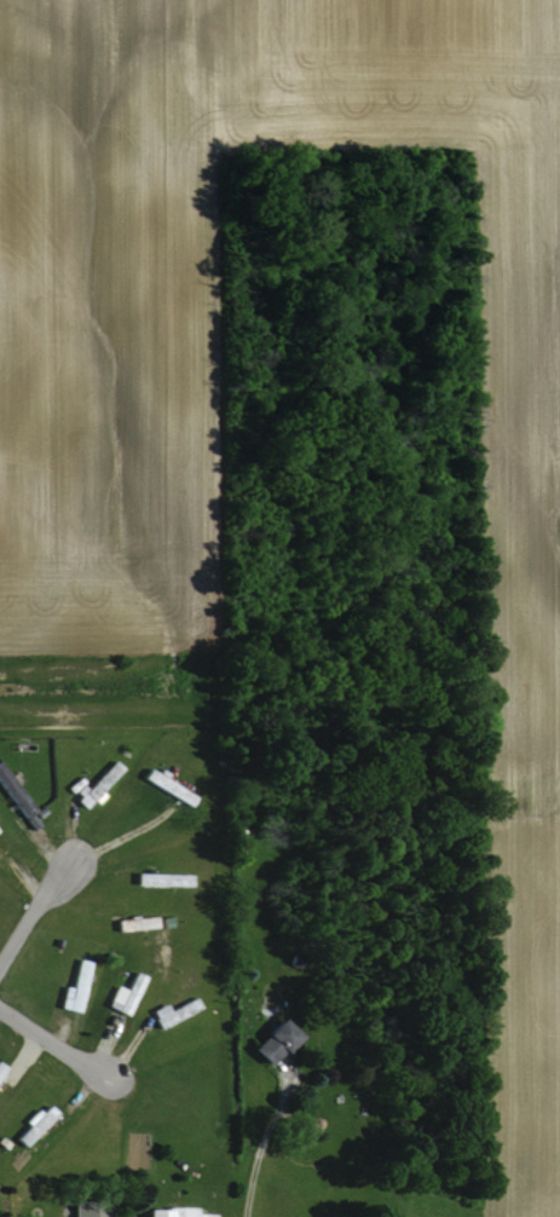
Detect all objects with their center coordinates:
building: (158, 783)
building: (91, 784)
building: (13, 795)
building: (160, 878)
road: (29, 919)
building: (132, 922)
building: (71, 986)
building: (122, 993)
building: (171, 1010)
building: (267, 1040)
road: (52, 1049)
building: (0, 1067)
building: (33, 1124)
road: (259, 1147)
building: (83, 1210)
building: (168, 1212)

